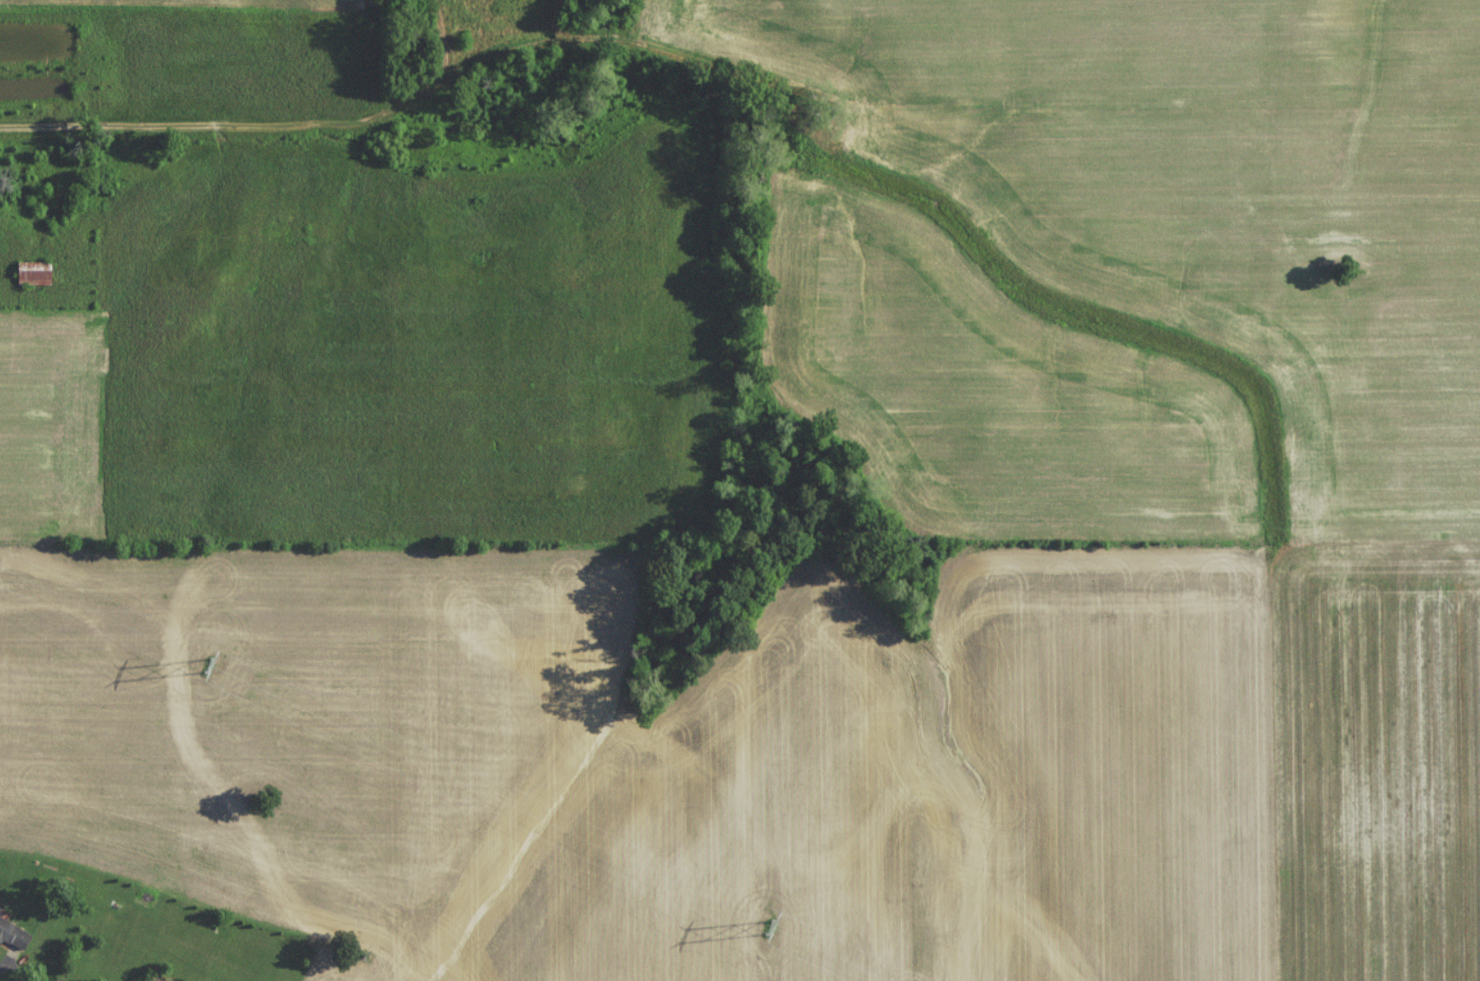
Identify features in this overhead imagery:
building: (34, 278)
power tower: (206, 671)
power tower: (765, 930)
building: (14, 940)

